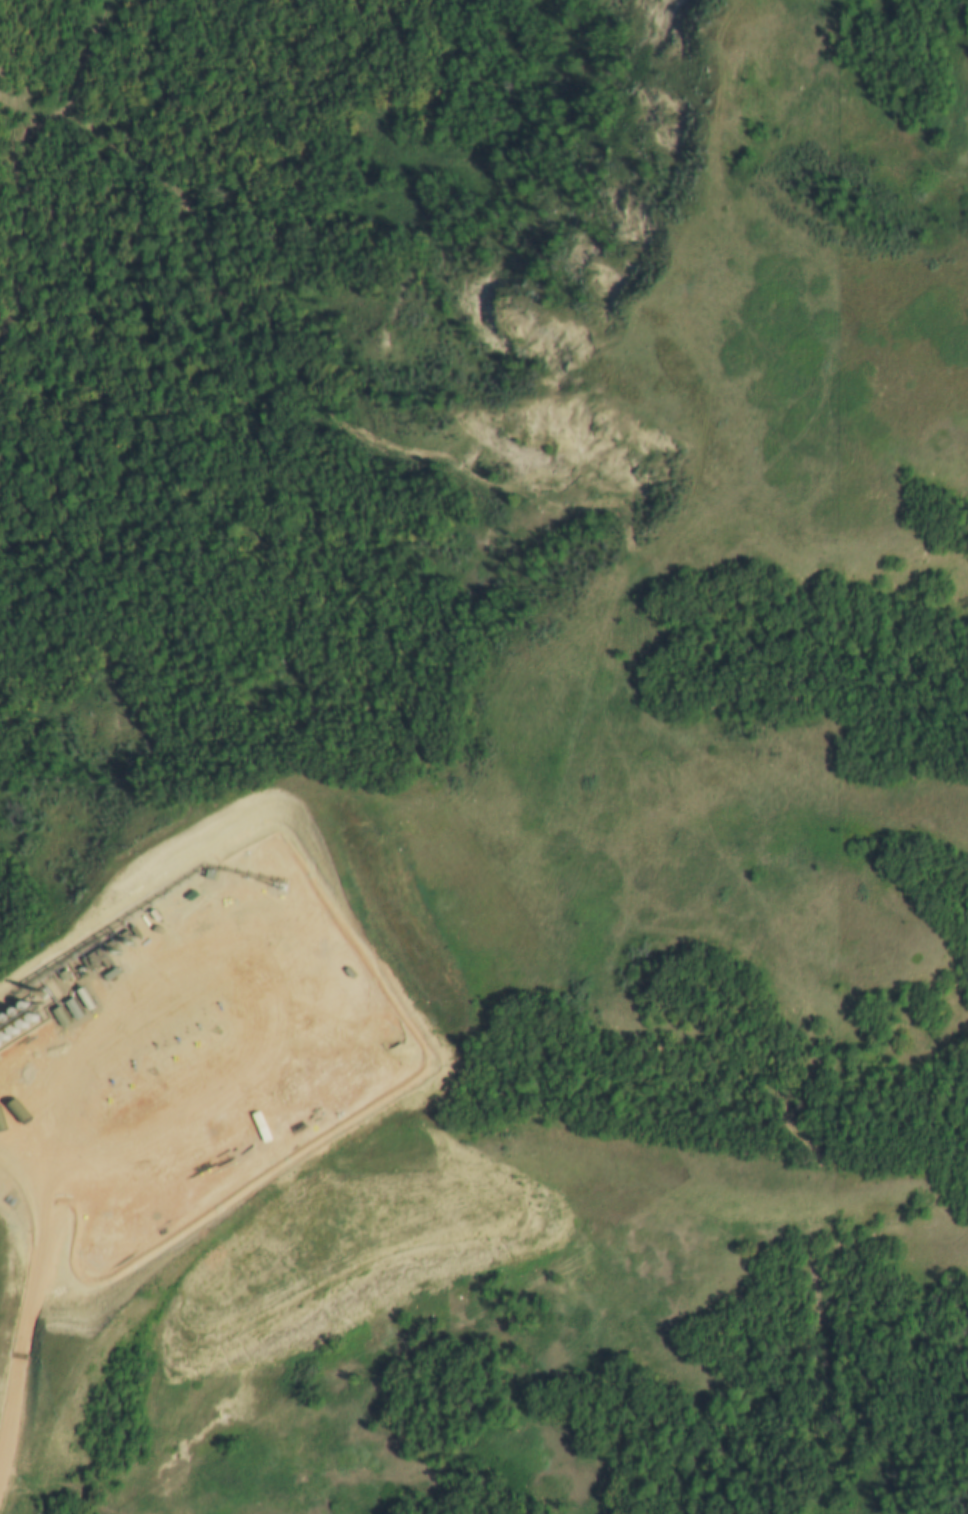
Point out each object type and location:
building: (23, 1005)
storage tank: (23, 1005)
building: (13, 1010)
storage tank: (13, 1010)
building: (4, 1016)
storage tank: (4, 1016)
building: (32, 1017)
storage tank: (32, 1017)
building: (21, 1022)
storage tank: (21, 1022)
building: (12, 1029)
storage tank: (12, 1029)
building: (3, 1035)
storage tank: (3, 1035)
petroleum well: (221, 1037)
petroleum well: (157, 1081)
road: (14, 1327)

